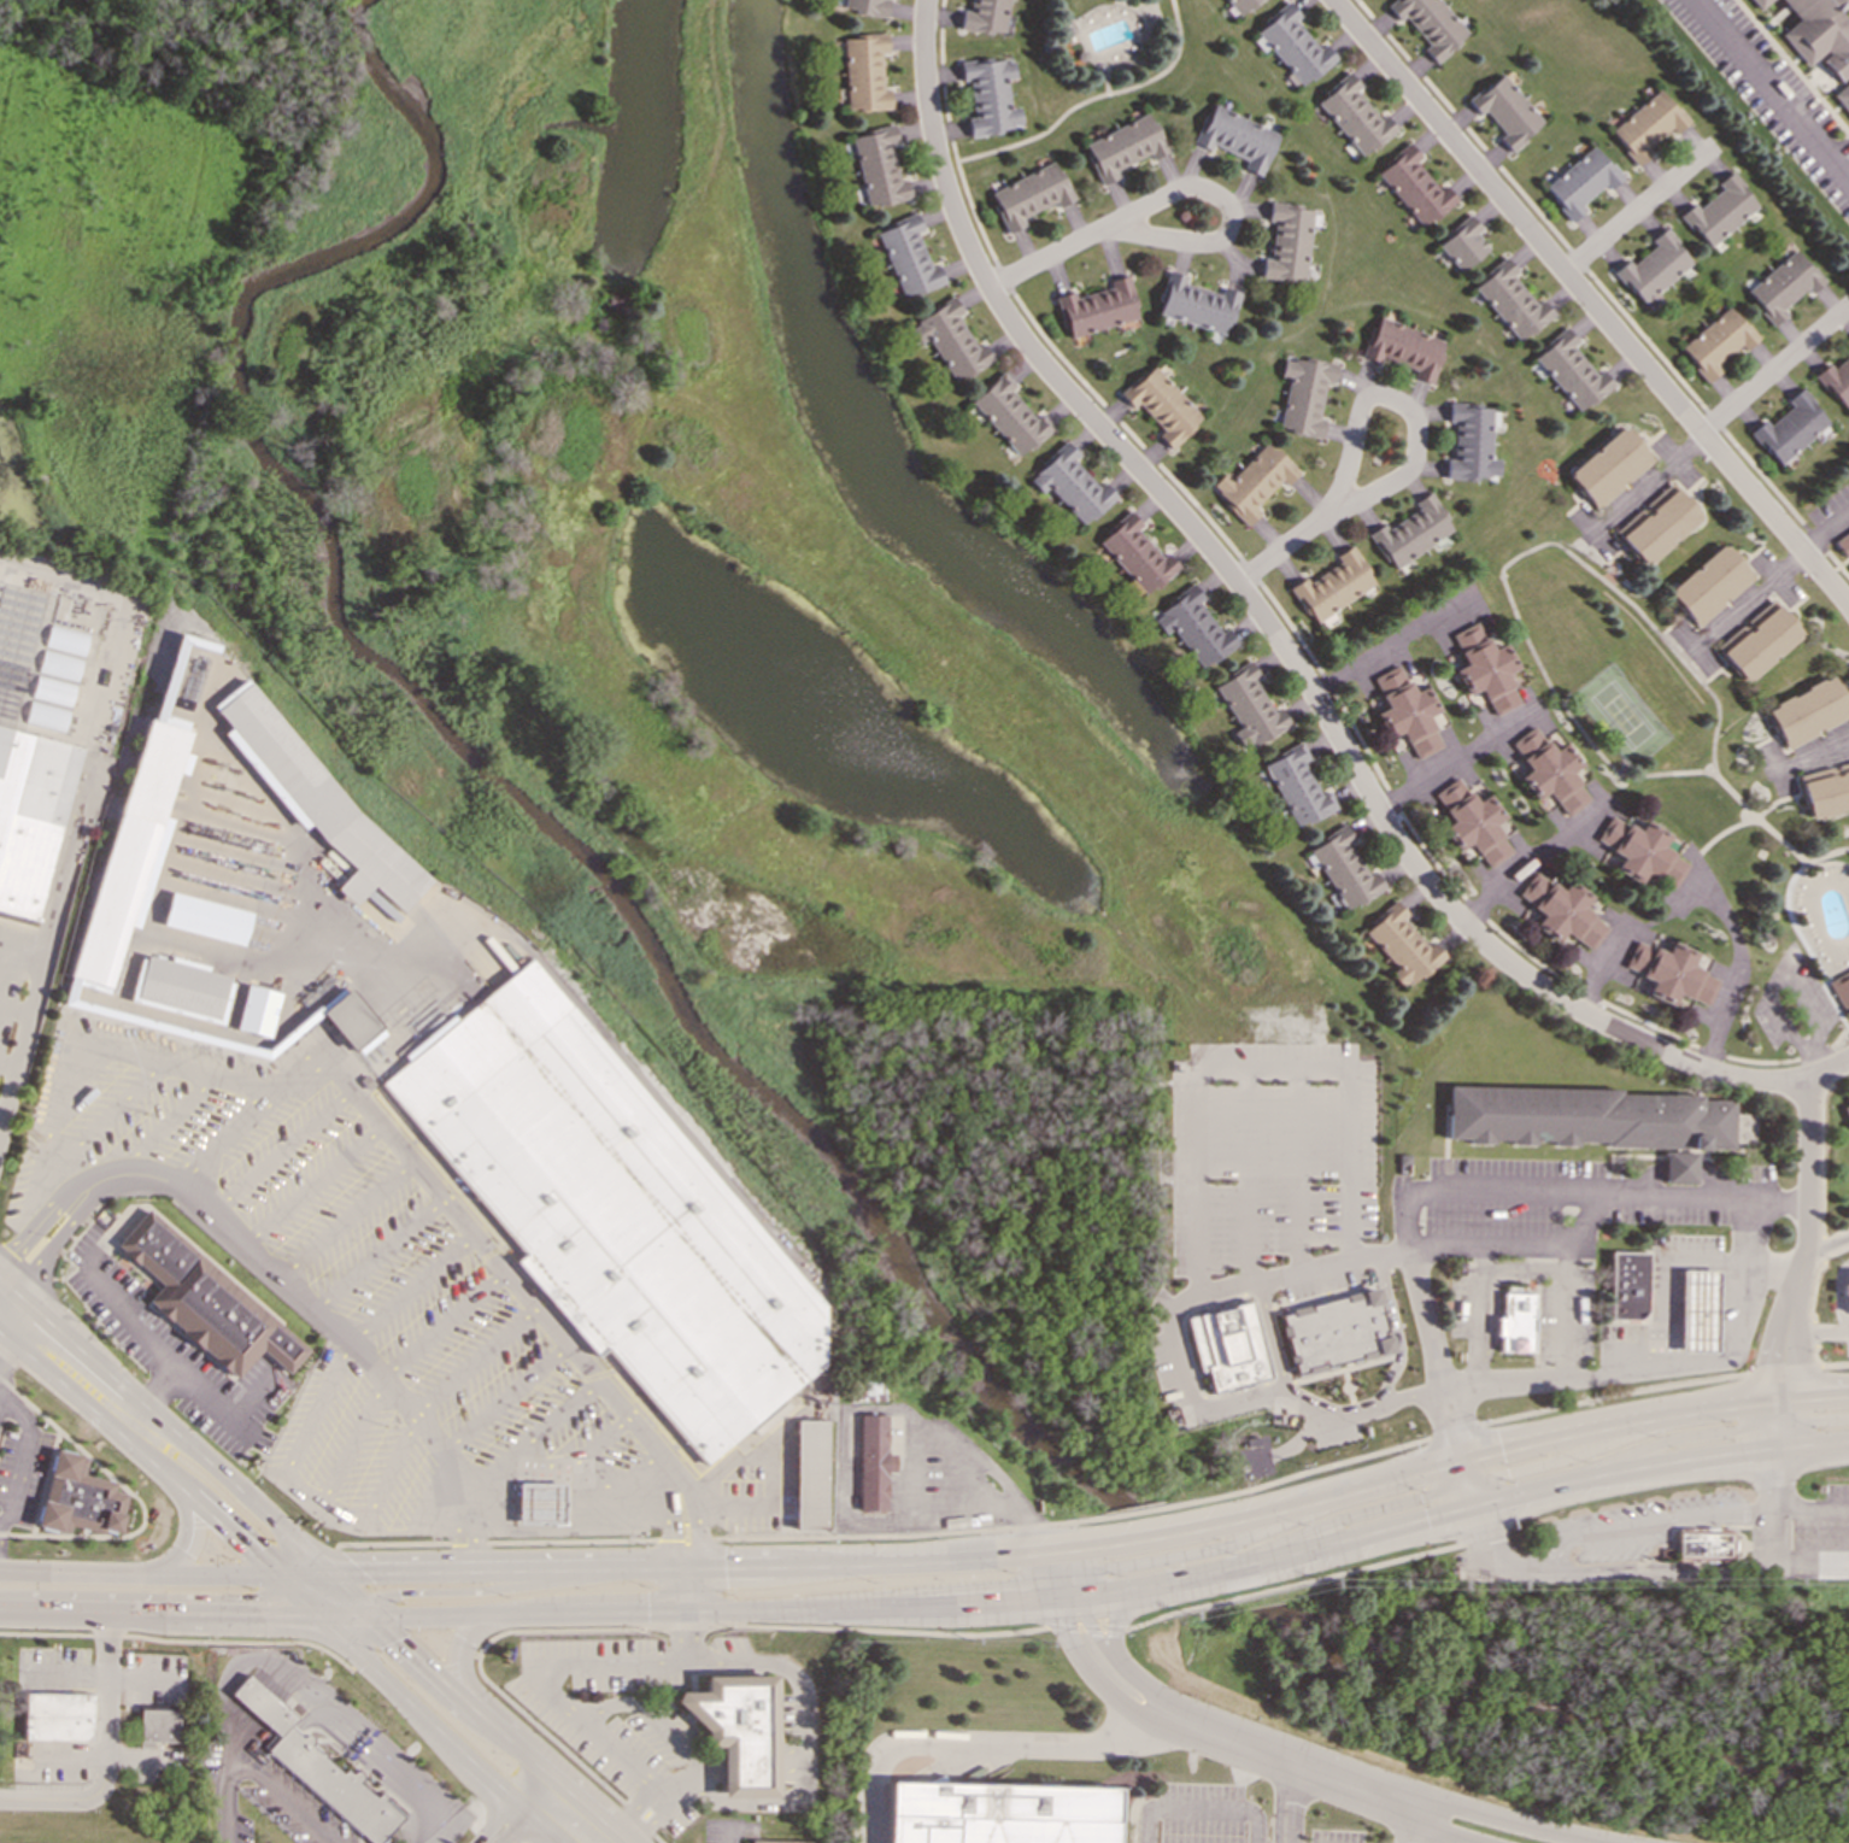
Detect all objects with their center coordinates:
building: (1757, 2)
building: (1242, 5)
building: (867, 6)
building: (985, 16)
building: (1430, 24)
building: (1816, 39)
building: (1295, 46)
building: (864, 72)
road: (1773, 88)
building: (990, 95)
road: (1092, 98)
building: (1505, 111)
building: (1354, 116)
building: (1647, 125)
building: (1237, 137)
building: (1123, 147)
building: (879, 168)
building: (1580, 182)
building: (1414, 186)
building: (1029, 195)
road: (1636, 211)
building: (1720, 211)
road: (1228, 215)
building: (1287, 241)
building: (1463, 243)
road: (1051, 254)
building: (908, 258)
building: (1655, 270)
road: (1604, 286)
building: (1784, 286)
building: (1512, 300)
road: (1589, 301)
building: (617, 303)
building: (1196, 304)
building: (1097, 307)
building: (950, 340)
building: (1718, 342)
building: (1404, 348)
road: (1777, 370)
building: (1572, 371)
building: (1837, 381)
building: (1303, 394)
road: (1404, 403)
building: (1162, 405)
building: (1010, 415)
building: (1792, 428)
building: (1472, 442)
building: (1610, 466)
building: (1254, 481)
road: (1650, 481)
building: (1072, 485)
building: (1659, 523)
road: (1829, 530)
building: (1413, 532)
building: (1844, 544)
road: (1289, 550)
road: (1569, 552)
building: (1137, 554)
building: (1710, 585)
building: (1333, 586)
road: (1750, 594)
building: (1193, 628)
road: (1296, 635)
building: (1759, 640)
road: (1385, 644)
road: (1284, 647)
building: (172, 667)
building: (1485, 669)
park: (822, 682)
building: (1250, 708)
building: (1407, 711)
building: (1809, 711)
road: (1824, 750)
river: (474, 756)
road: (1452, 759)
building: (1550, 770)
building: (1298, 786)
building: (1826, 790)
building: (309, 794)
building: (33, 817)
building: (1473, 822)
building: (134, 844)
building: (1642, 851)
road: (1536, 859)
building: (1345, 869)
building: (1562, 910)
building: (206, 918)
road: (1795, 925)
building: (1402, 945)
road: (43, 958)
road: (1604, 965)
road: (1738, 970)
building: (1672, 973)
building: (181, 987)
building: (1841, 990)
road: (17, 1002)
building: (257, 1010)
building: (352, 1020)
road: (1254, 1066)
building: (1845, 1110)
building: (1592, 1120)
parking lot: (1286, 1173)
road: (439, 1188)
road: (1475, 1190)
building: (617, 1215)
road: (1583, 1221)
road: (1747, 1235)
road: (1821, 1237)
road: (1807, 1243)
road: (1827, 1244)
road: (1556, 1245)
road: (1520, 1266)
road: (277, 1275)
road: (1668, 1276)
building: (1626, 1286)
road: (2, 1289)
building: (1845, 1292)
building: (204, 1299)
building: (1696, 1311)
road: (125, 1314)
road: (1474, 1317)
building: (1514, 1322)
building: (1334, 1331)
road: (1816, 1331)
road: (1275, 1339)
building: (1227, 1346)
road: (4, 1354)
road: (1178, 1363)
road: (1656, 1368)
road: (1782, 1369)
road: (204, 1391)
road: (123, 1421)
road: (1808, 1421)
road: (1774, 1422)
road: (908, 1424)
road: (164, 1431)
road: (1669, 1439)
road: (22, 1452)
road: (137, 1457)
road: (1552, 1458)
building: (871, 1461)
road: (1444, 1466)
building: (808, 1474)
road: (961, 1477)
road: (45, 1481)
road: (1467, 1483)
road: (133, 1495)
building: (80, 1498)
building: (538, 1502)
road: (1782, 1509)
road: (1448, 1510)
road: (1355, 1515)
road: (693, 1516)
road: (669, 1520)
road: (1047, 1524)
road: (567, 1526)
road: (181, 1540)
building: (1703, 1545)
road: (1204, 1548)
traffic signals: (248, 1554)
road: (1493, 1554)
road: (1544, 1559)
road: (685, 1560)
river: (1186, 1561)
road: (1075, 1565)
road: (1785, 1566)
road: (687, 1567)
traffic signals: (685, 1568)
traffic signals: (364, 1573)
road: (304, 1575)
road: (137, 1577)
road: (1046, 1577)
road: (1302, 1581)
road: (1063, 1586)
road: (500, 1587)
road: (346, 1589)
road: (685, 1591)
traffic signals: (398, 1592)
road: (356, 1610)
road: (369, 1610)
road: (714, 1614)
road: (175, 1615)
traffic signals: (685, 1615)
traffic signals: (275, 1616)
road: (363, 1618)
road: (1113, 1619)
road: (753, 1625)
road: (1082, 1627)
road: (347, 1631)
traffic signals: (398, 1638)
road: (182, 1640)
road: (465, 1653)
road: (776, 1667)
road: (276, 1684)
road: (542, 1685)
river: (1565, 1686)
road: (644, 1709)
road: (418, 1712)
building: (58, 1715)
building: (163, 1725)
road: (500, 1730)
building: (736, 1731)
road: (981, 1744)
road: (560, 1748)
road: (102, 1755)
road: (1304, 1755)
road: (228, 1756)
road: (1229, 1756)
road: (389, 1762)
building: (318, 1767)
road: (313, 1768)
road: (271, 1786)
road: (1286, 1797)
road: (763, 1801)
road: (523, 1809)
road: (1211, 1809)
building: (999, 1813)
road: (642, 1818)
parking lot: (1222, 1818)
road: (1410, 1819)
road: (227, 1824)
road: (1143, 1825)
road: (435, 1827)
road: (620, 1841)
building: (771, 1841)

